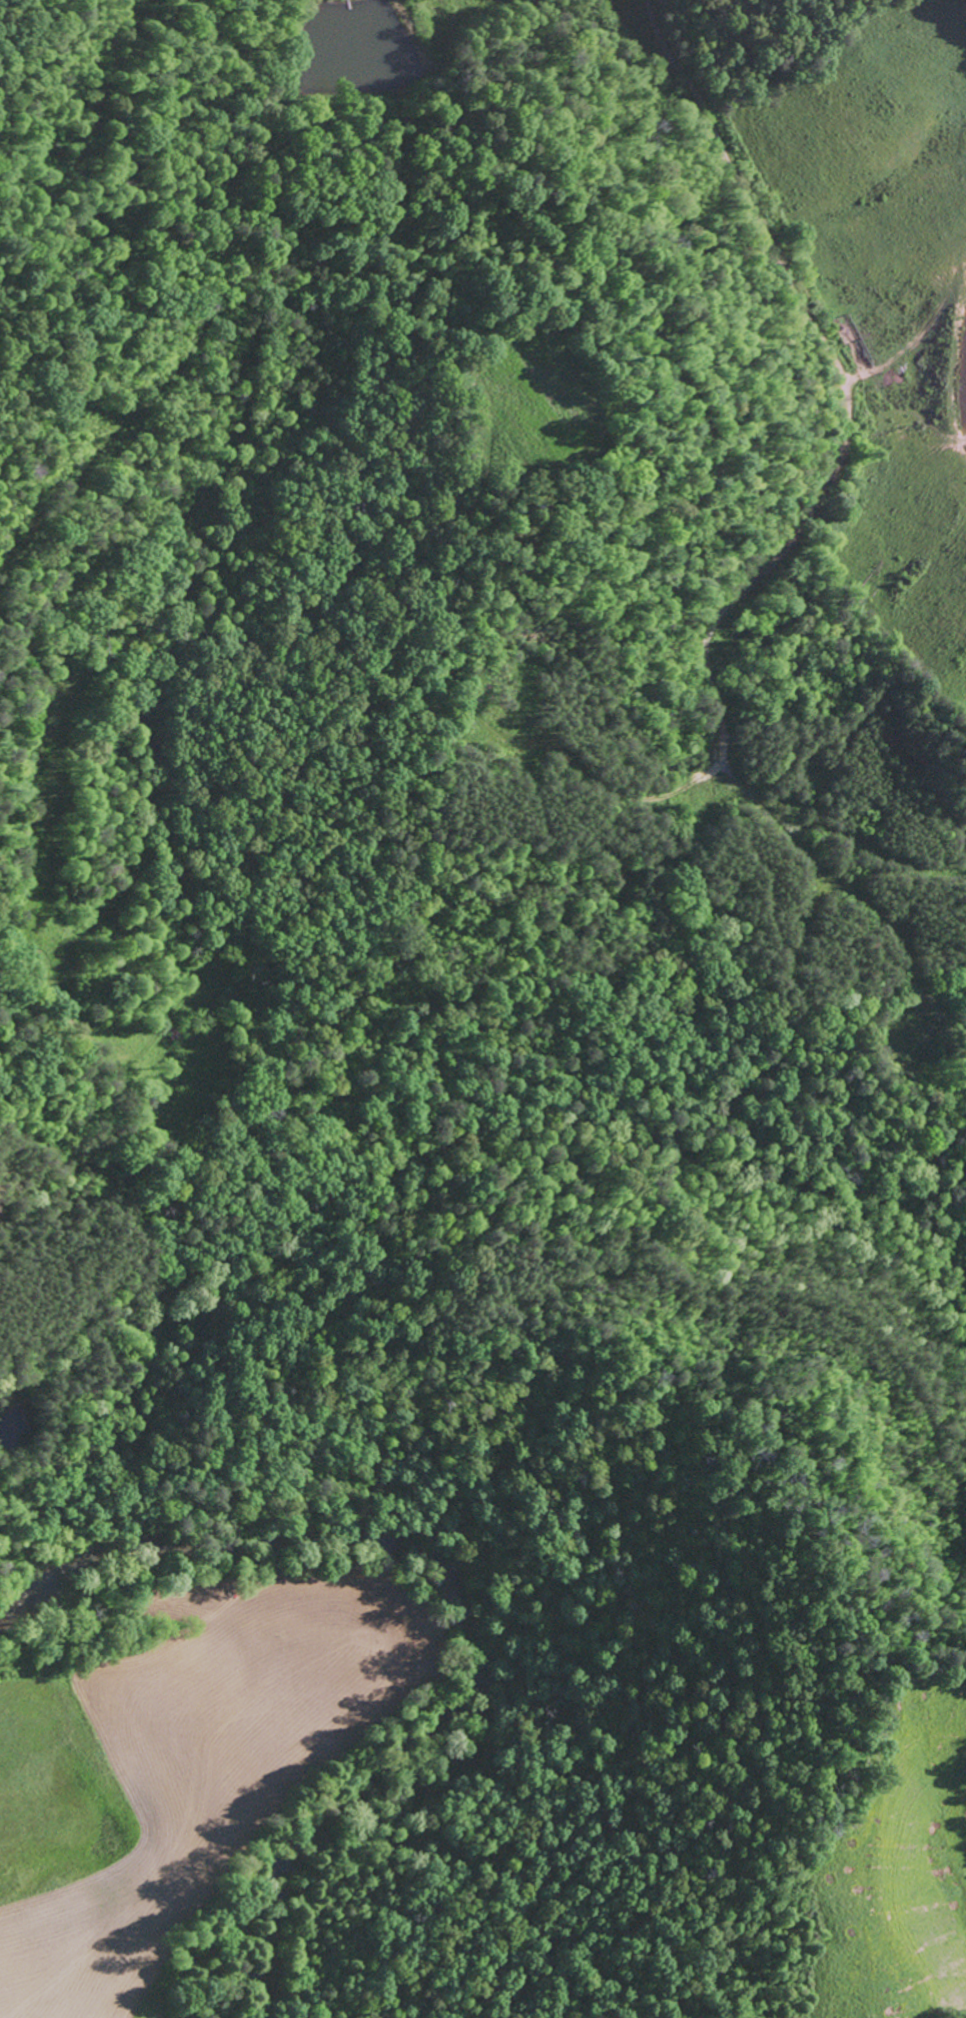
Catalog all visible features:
road: (738, 191)

